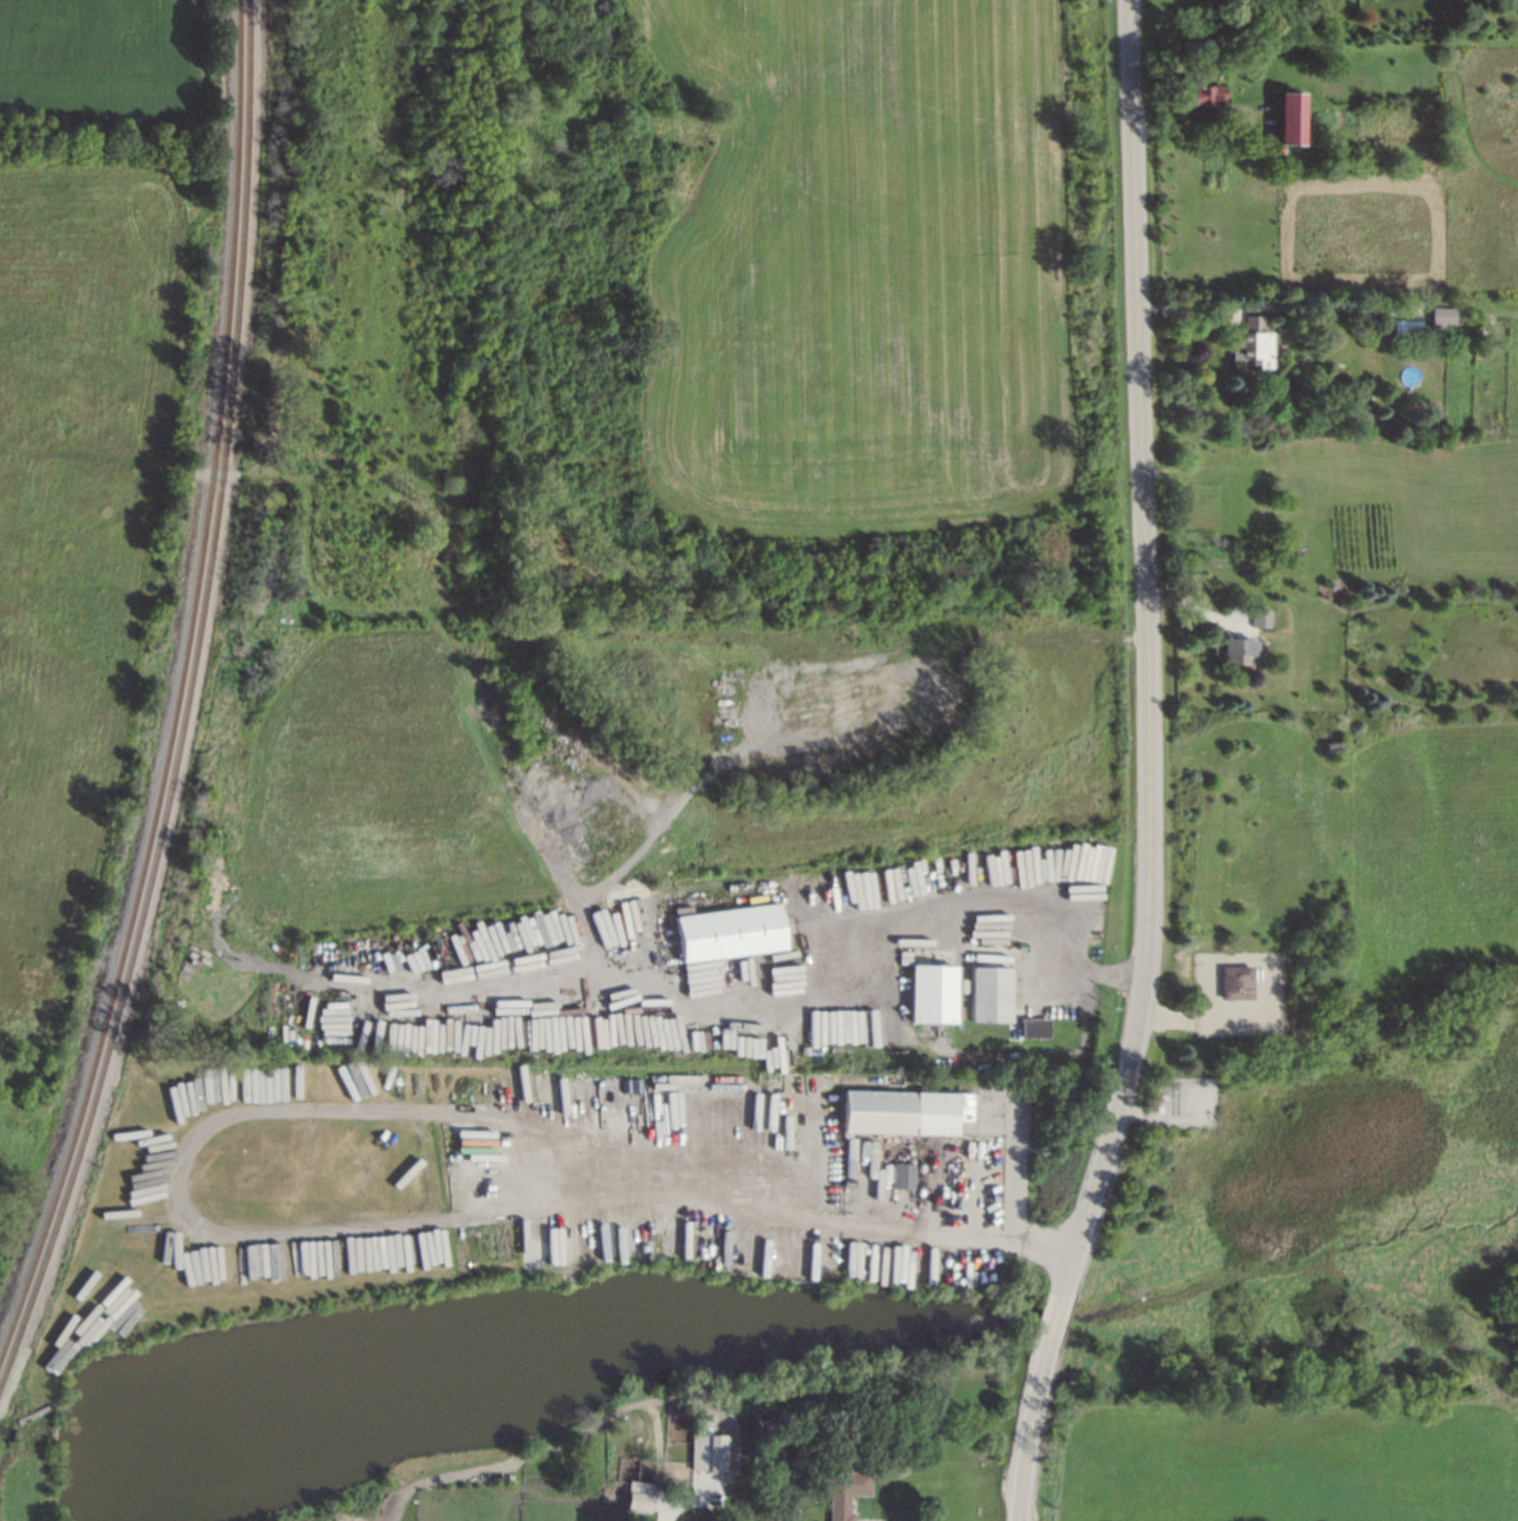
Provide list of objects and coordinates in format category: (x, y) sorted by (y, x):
building: (1204, 93)
building: (1286, 120)
road: (1234, 130)
building: (1442, 316)
building: (1405, 328)
building: (1250, 344)
building: (1343, 357)
road: (1143, 544)
building: (1278, 546)
railway: (205, 548)
railway: (215, 548)
building: (1258, 617)
building: (1236, 649)
building: (1329, 744)
road: (996, 912)
building: (729, 932)
building: (1235, 979)
building: (987, 993)
building: (929, 996)
road: (1194, 1017)
building: (1030, 1027)
road: (318, 1109)
building: (906, 1112)
road: (421, 1166)
road: (1018, 1169)
building: (903, 1176)
road: (1095, 1191)
road: (1005, 1221)
railway: (48, 1226)
railway: (54, 1238)
road: (1056, 1326)
road: (592, 1423)
road: (1030, 1438)
building: (709, 1452)
road: (706, 1483)
building: (841, 1490)
building: (640, 1497)
road: (680, 1502)
road: (710, 1509)

